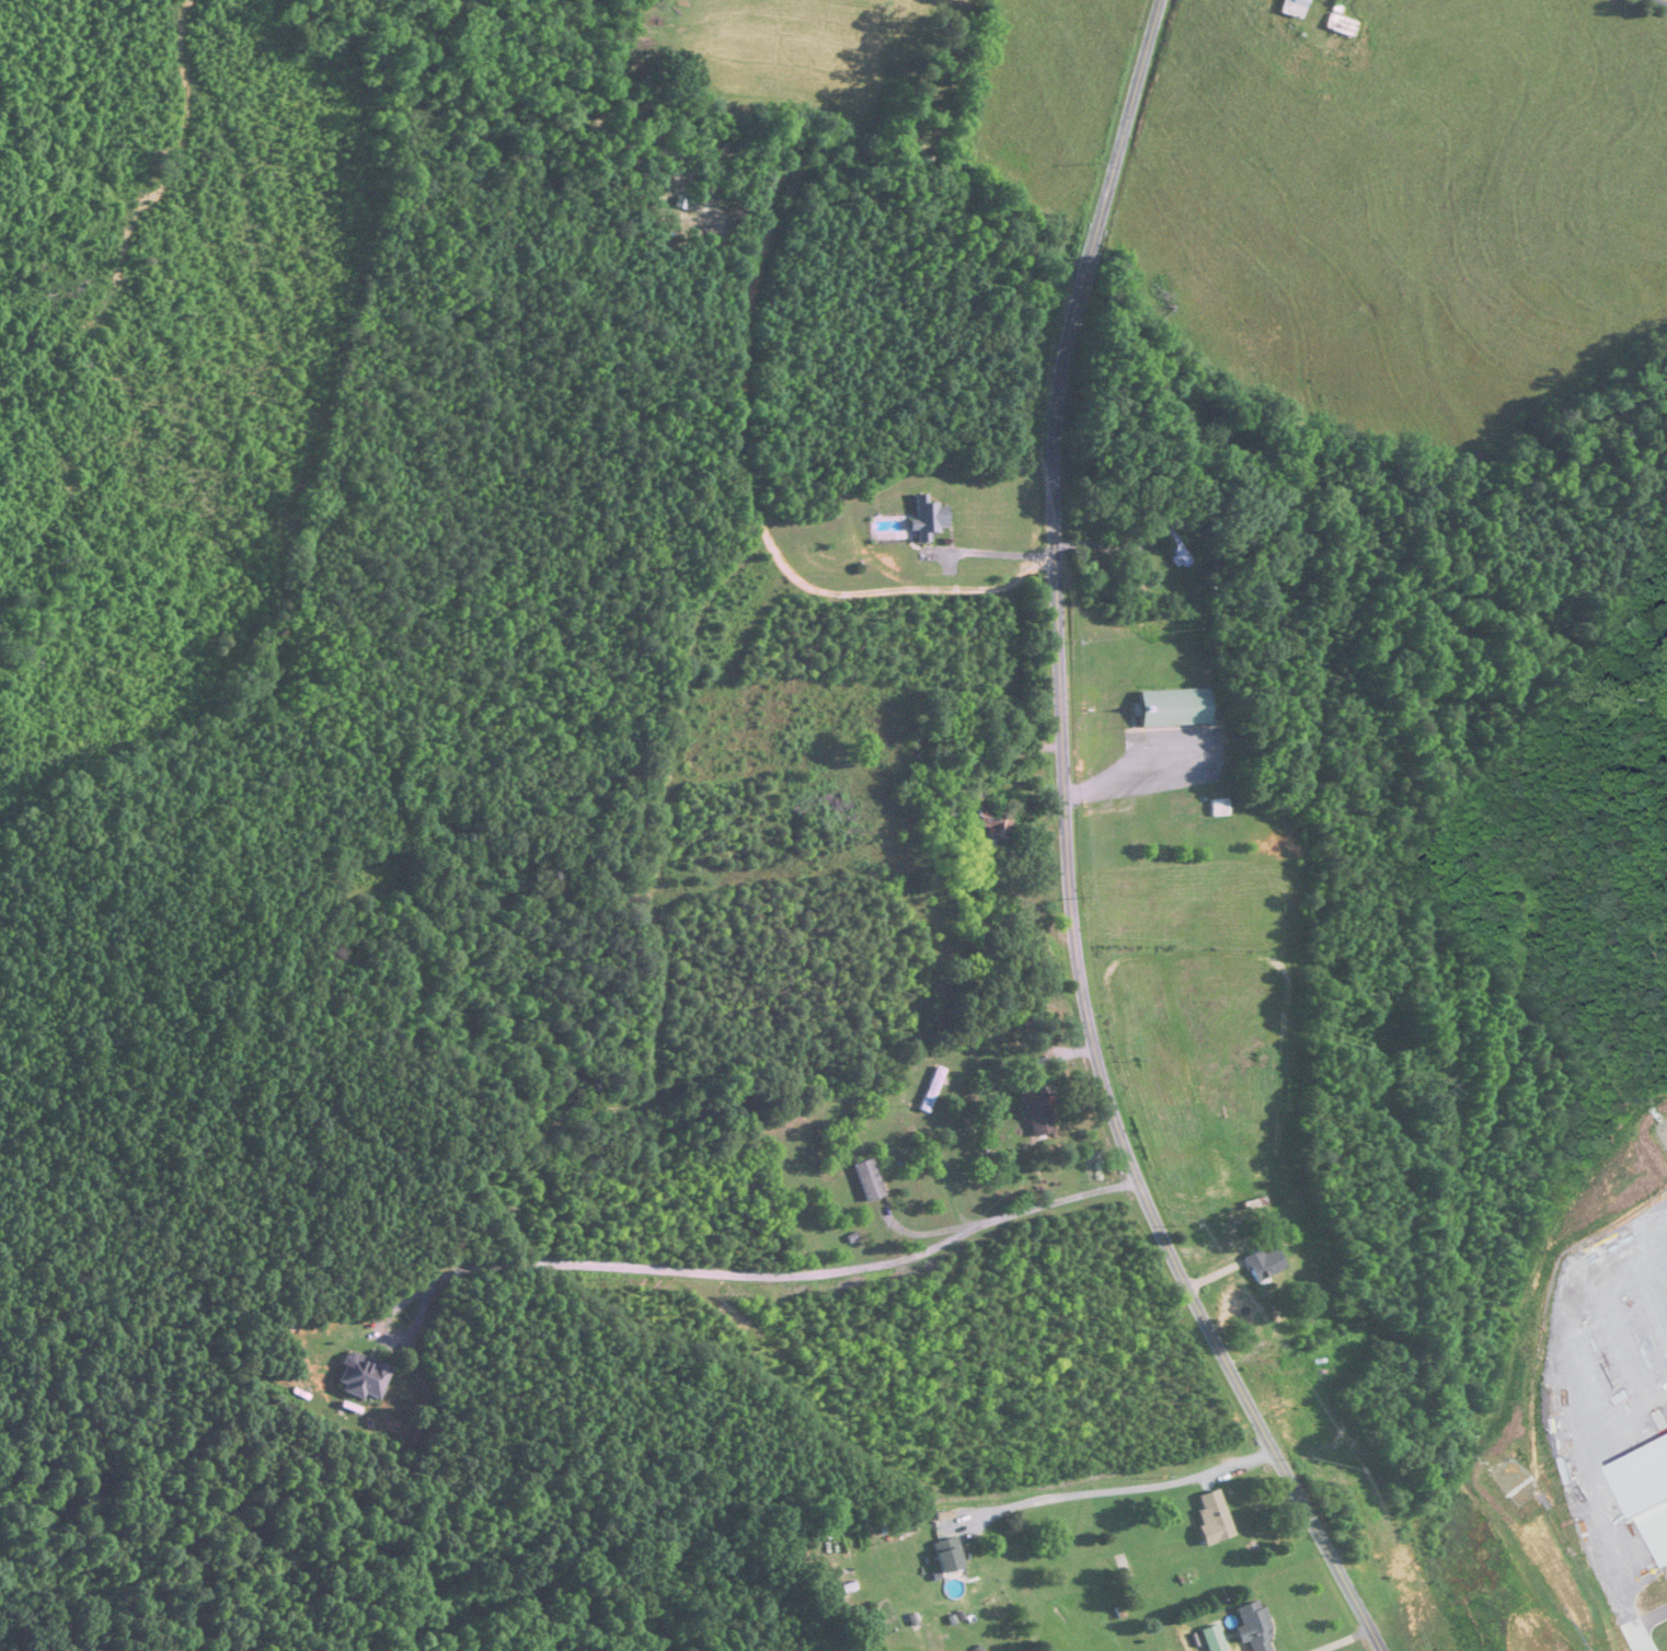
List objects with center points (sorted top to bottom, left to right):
building: (1291, 8)
building: (1340, 25)
building: (681, 203)
building: (927, 519)
road: (1097, 544)
building: (1176, 549)
road: (992, 553)
building: (1172, 707)
building: (1219, 808)
building: (991, 828)
road: (1069, 852)
building: (931, 1090)
building: (1036, 1110)
building: (867, 1180)
road: (930, 1233)
building: (1264, 1266)
road: (712, 1273)
building: (360, 1377)
road: (1124, 1489)
building: (1212, 1517)
building: (947, 1556)
building: (1253, 1627)

